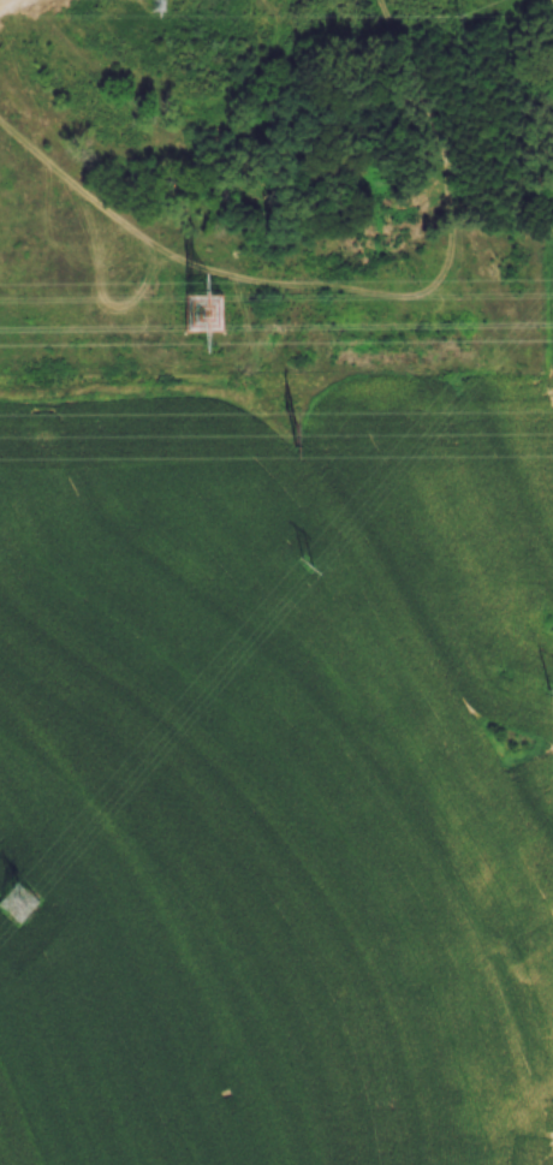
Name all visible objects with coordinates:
power tower: (160, 4)
power tower: (201, 316)
power tower: (301, 434)
power tower: (314, 566)
power tower: (16, 905)

